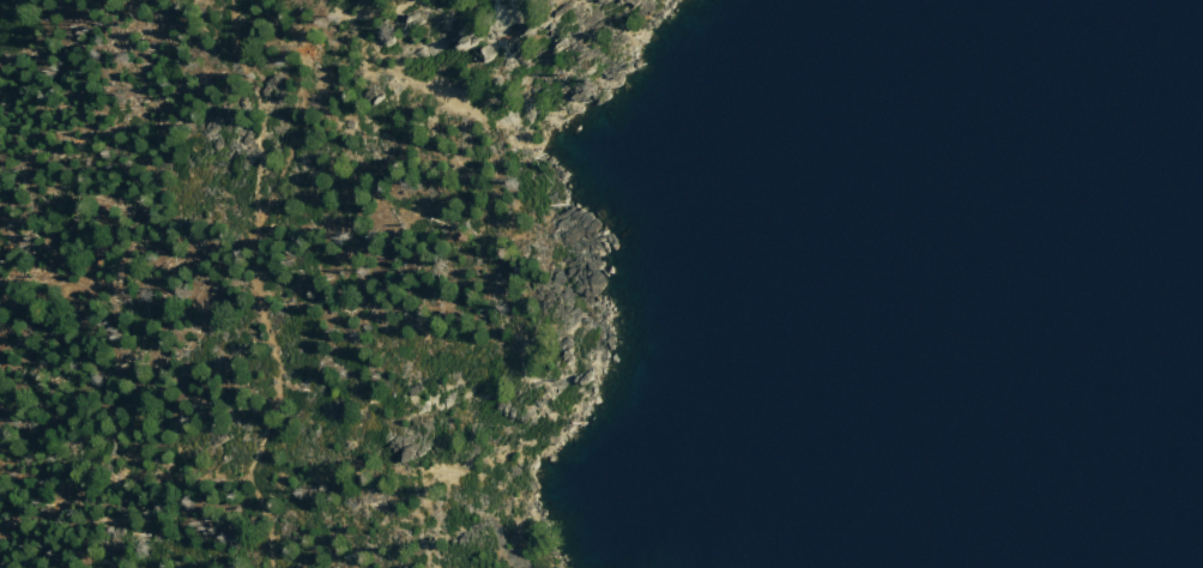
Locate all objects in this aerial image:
road: (250, 99)
road: (255, 243)

